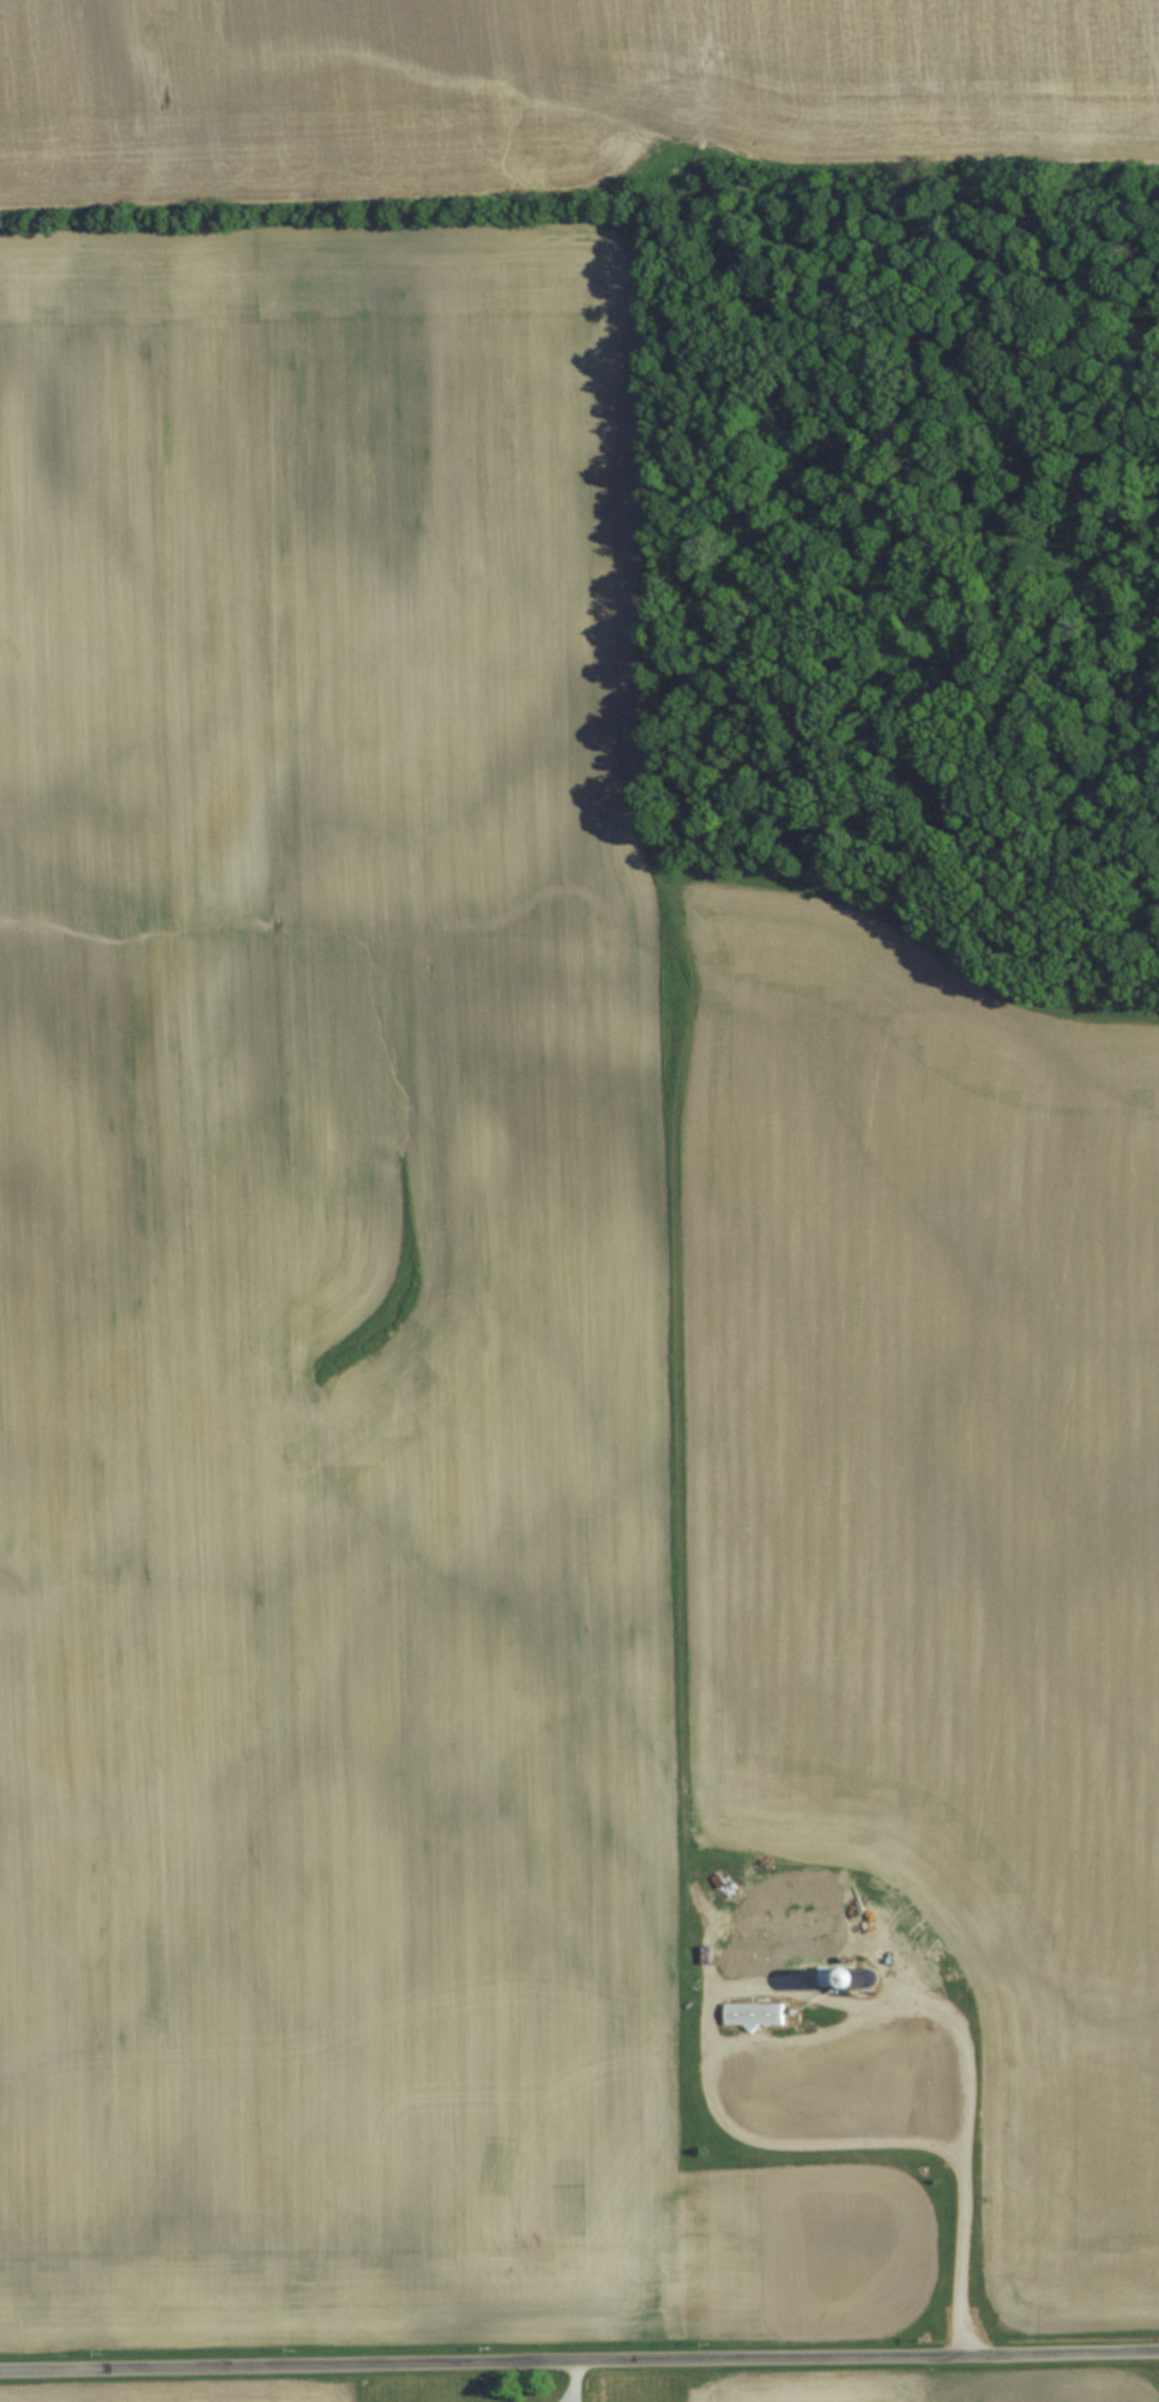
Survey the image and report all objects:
building: (804, 1891)
building: (792, 1953)
building: (839, 1975)
building: (756, 2012)
building: (759, 2075)
road: (966, 2142)
road: (579, 2360)

